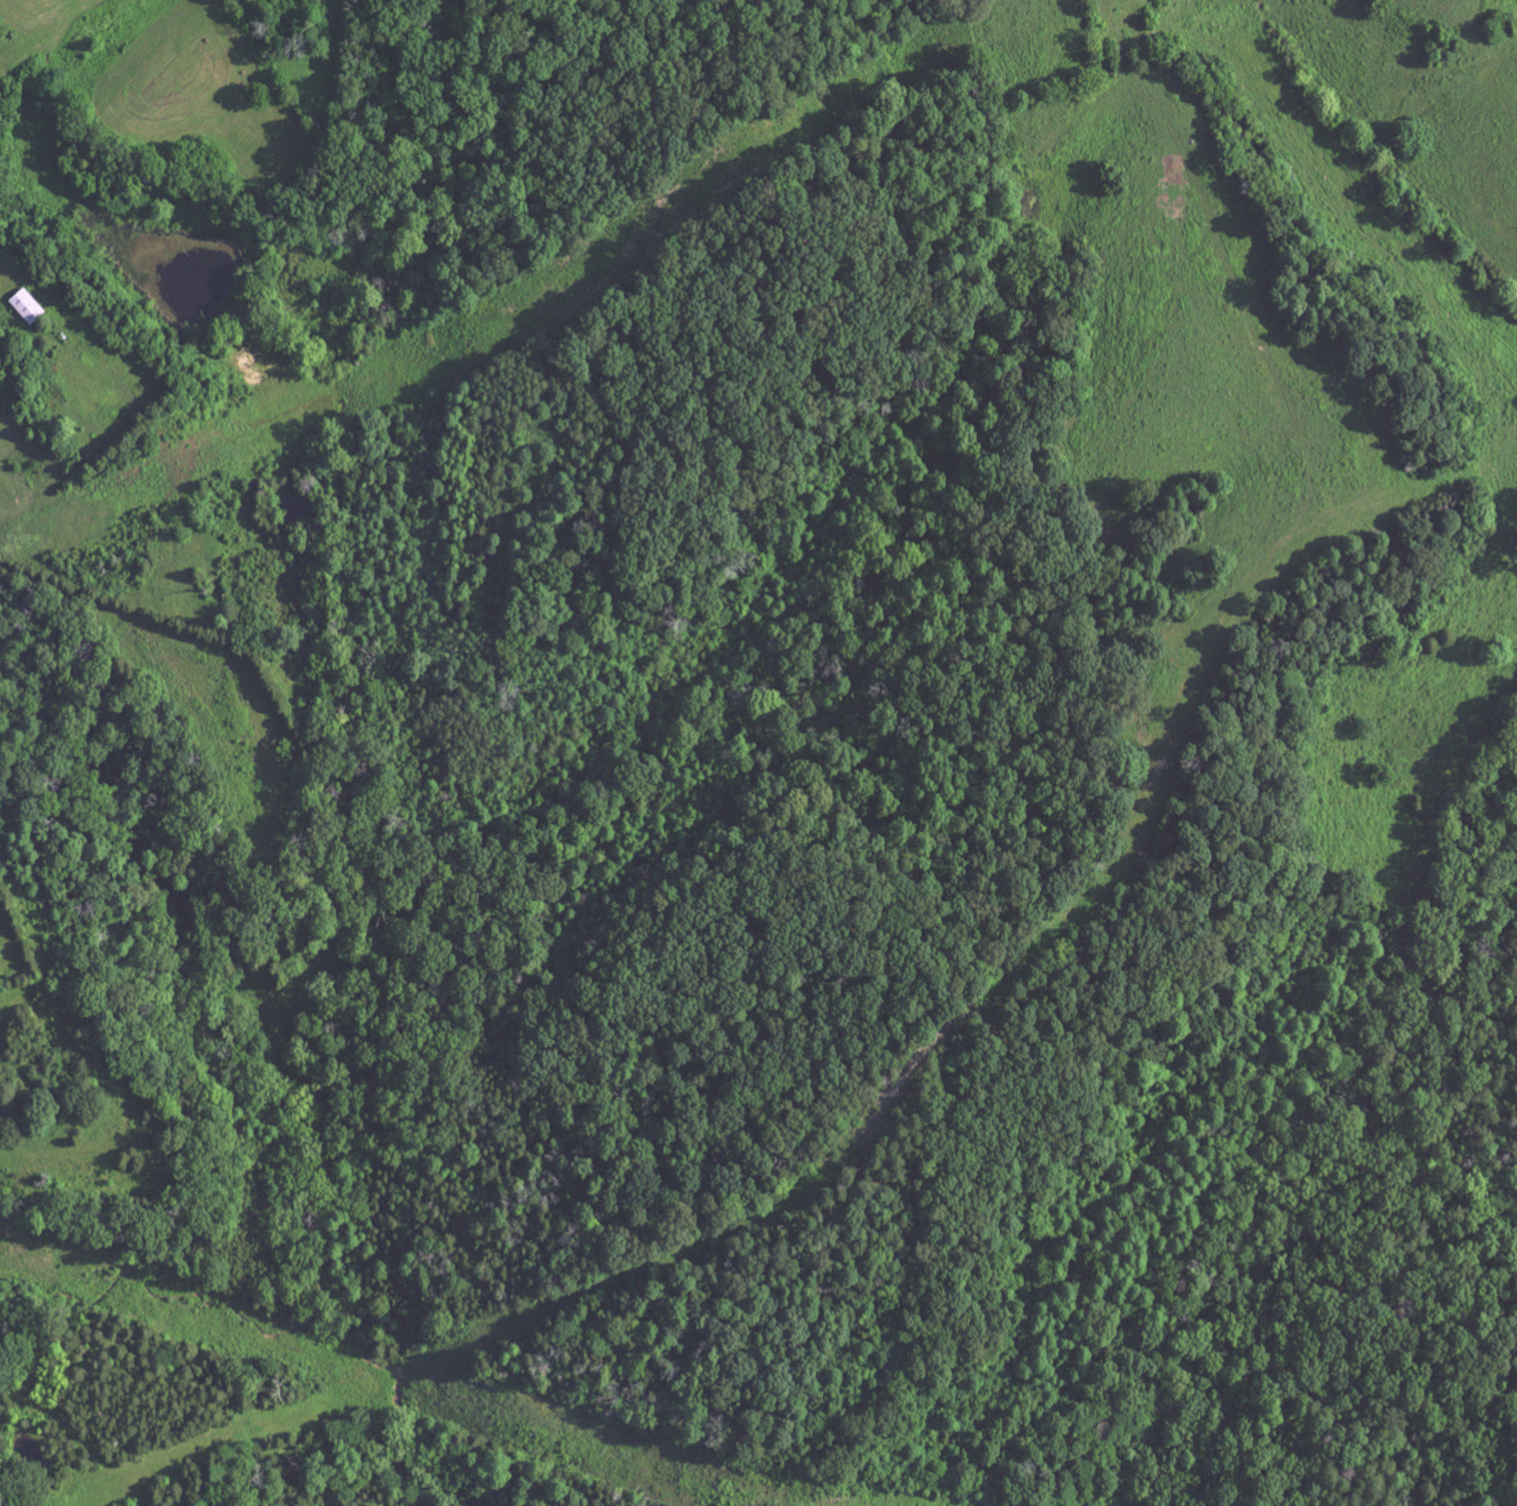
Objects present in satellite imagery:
power tower: (537, 1426)
power tower: (782, 1505)

